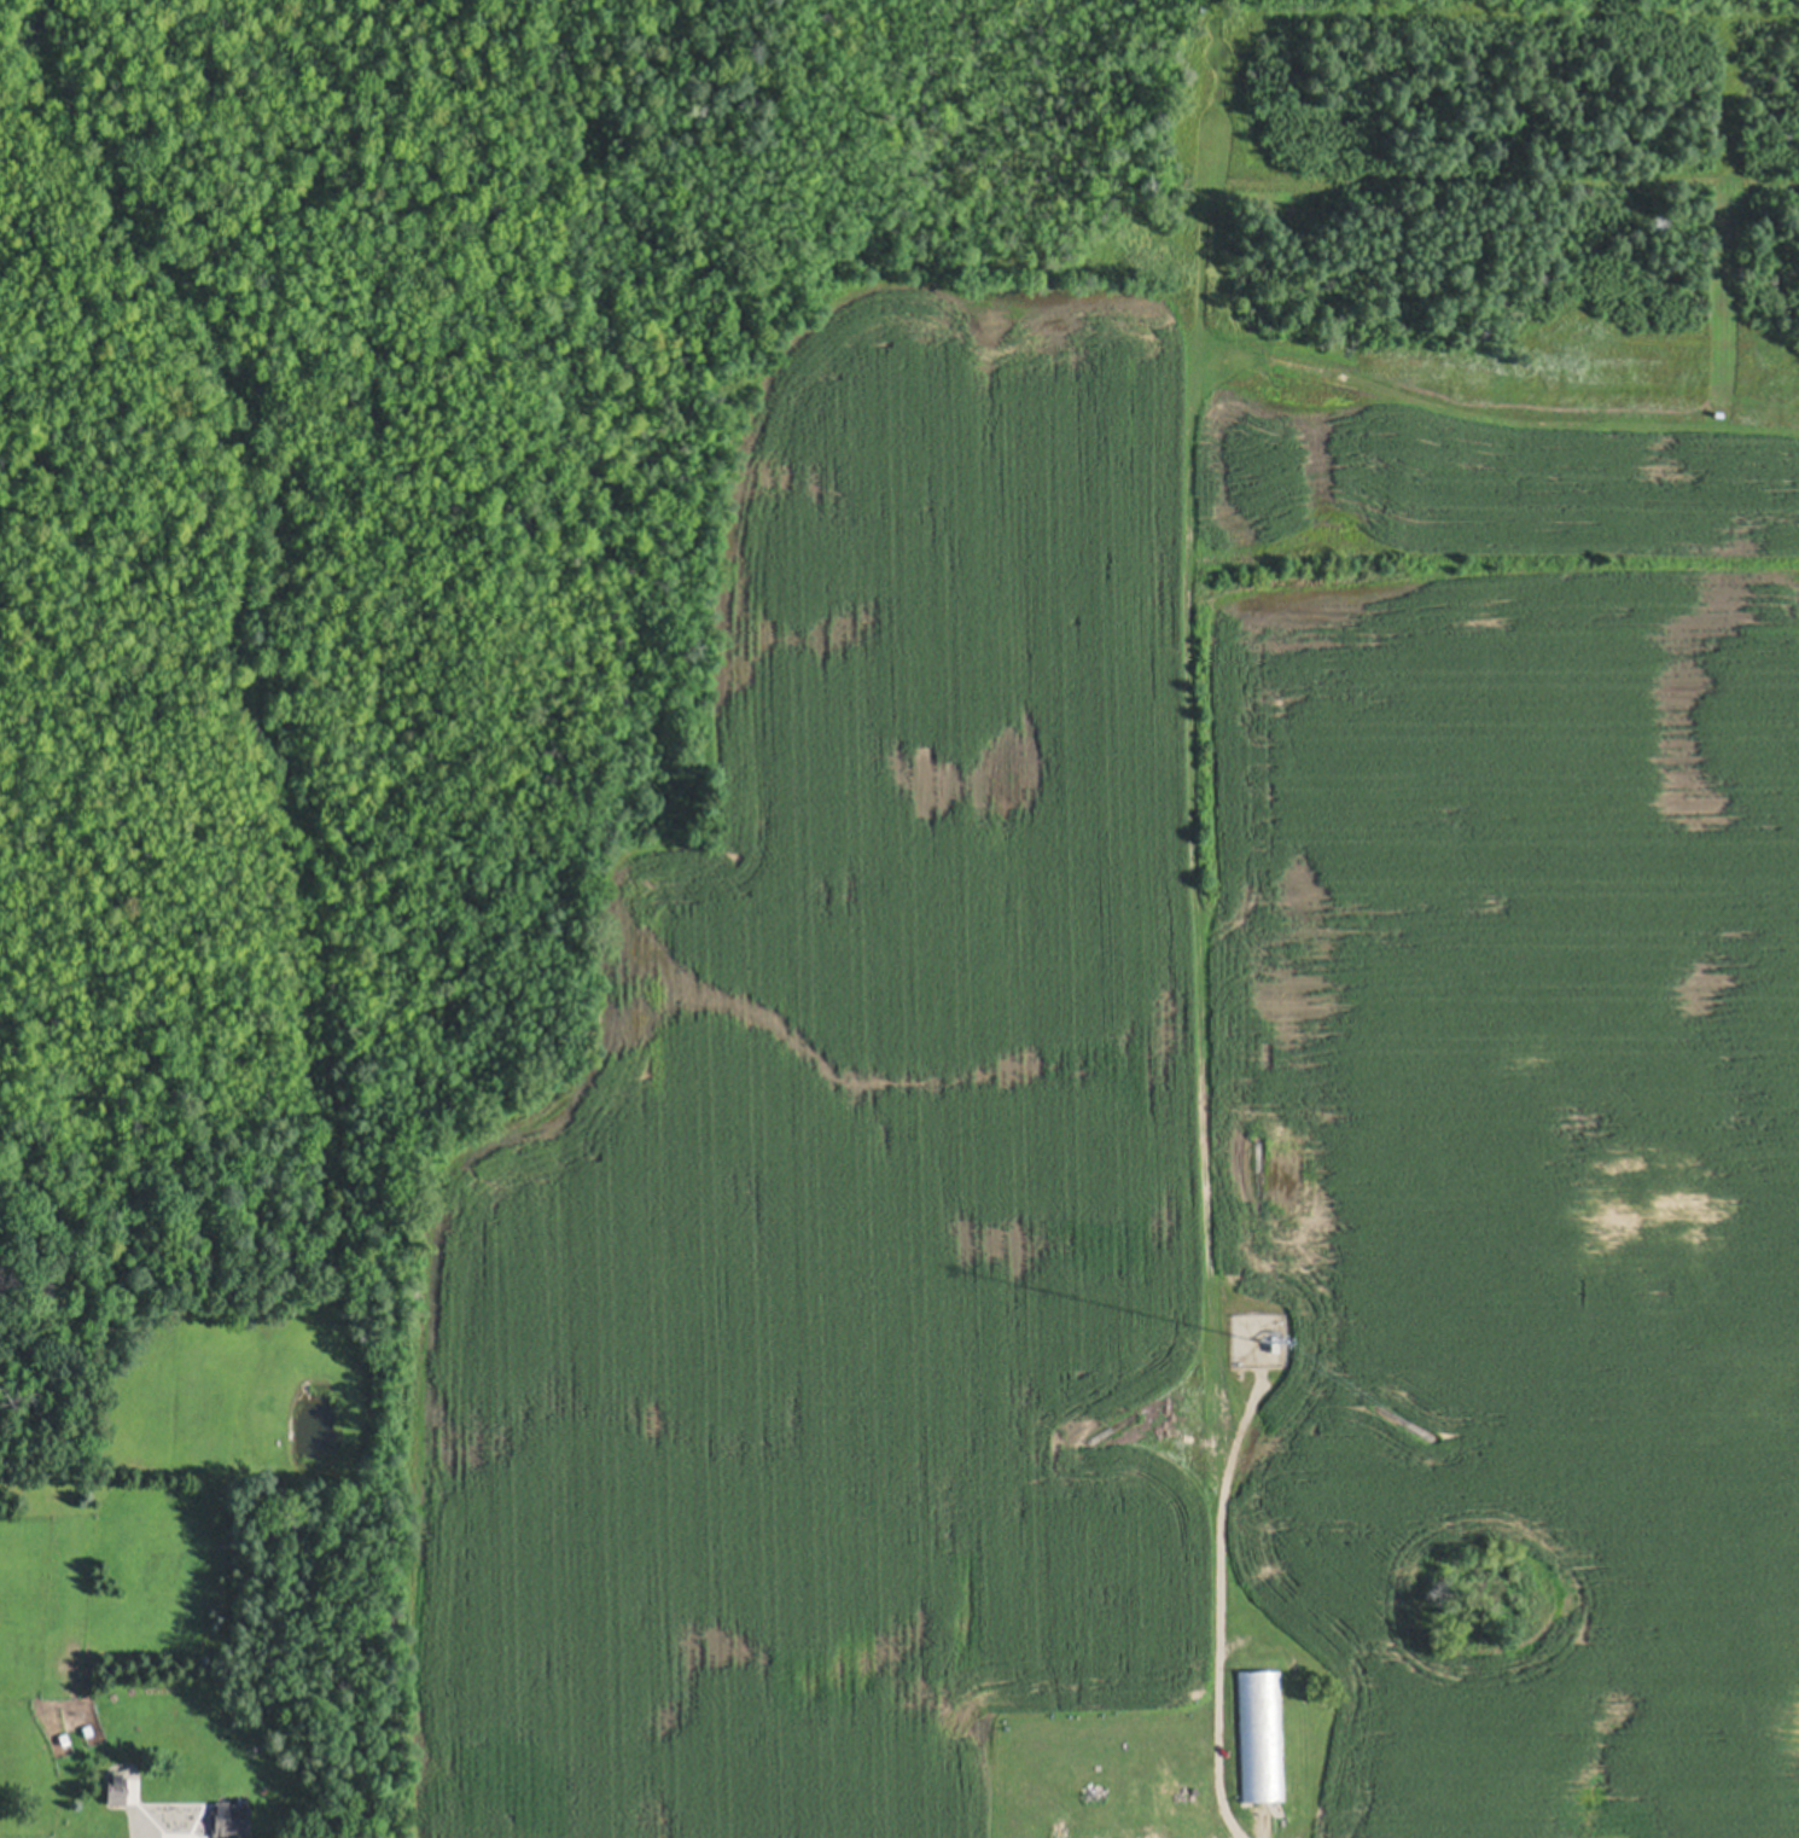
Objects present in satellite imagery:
building: (87, 1726)
building: (64, 1734)
building: (1259, 1734)
building: (116, 1785)
building: (232, 1819)

